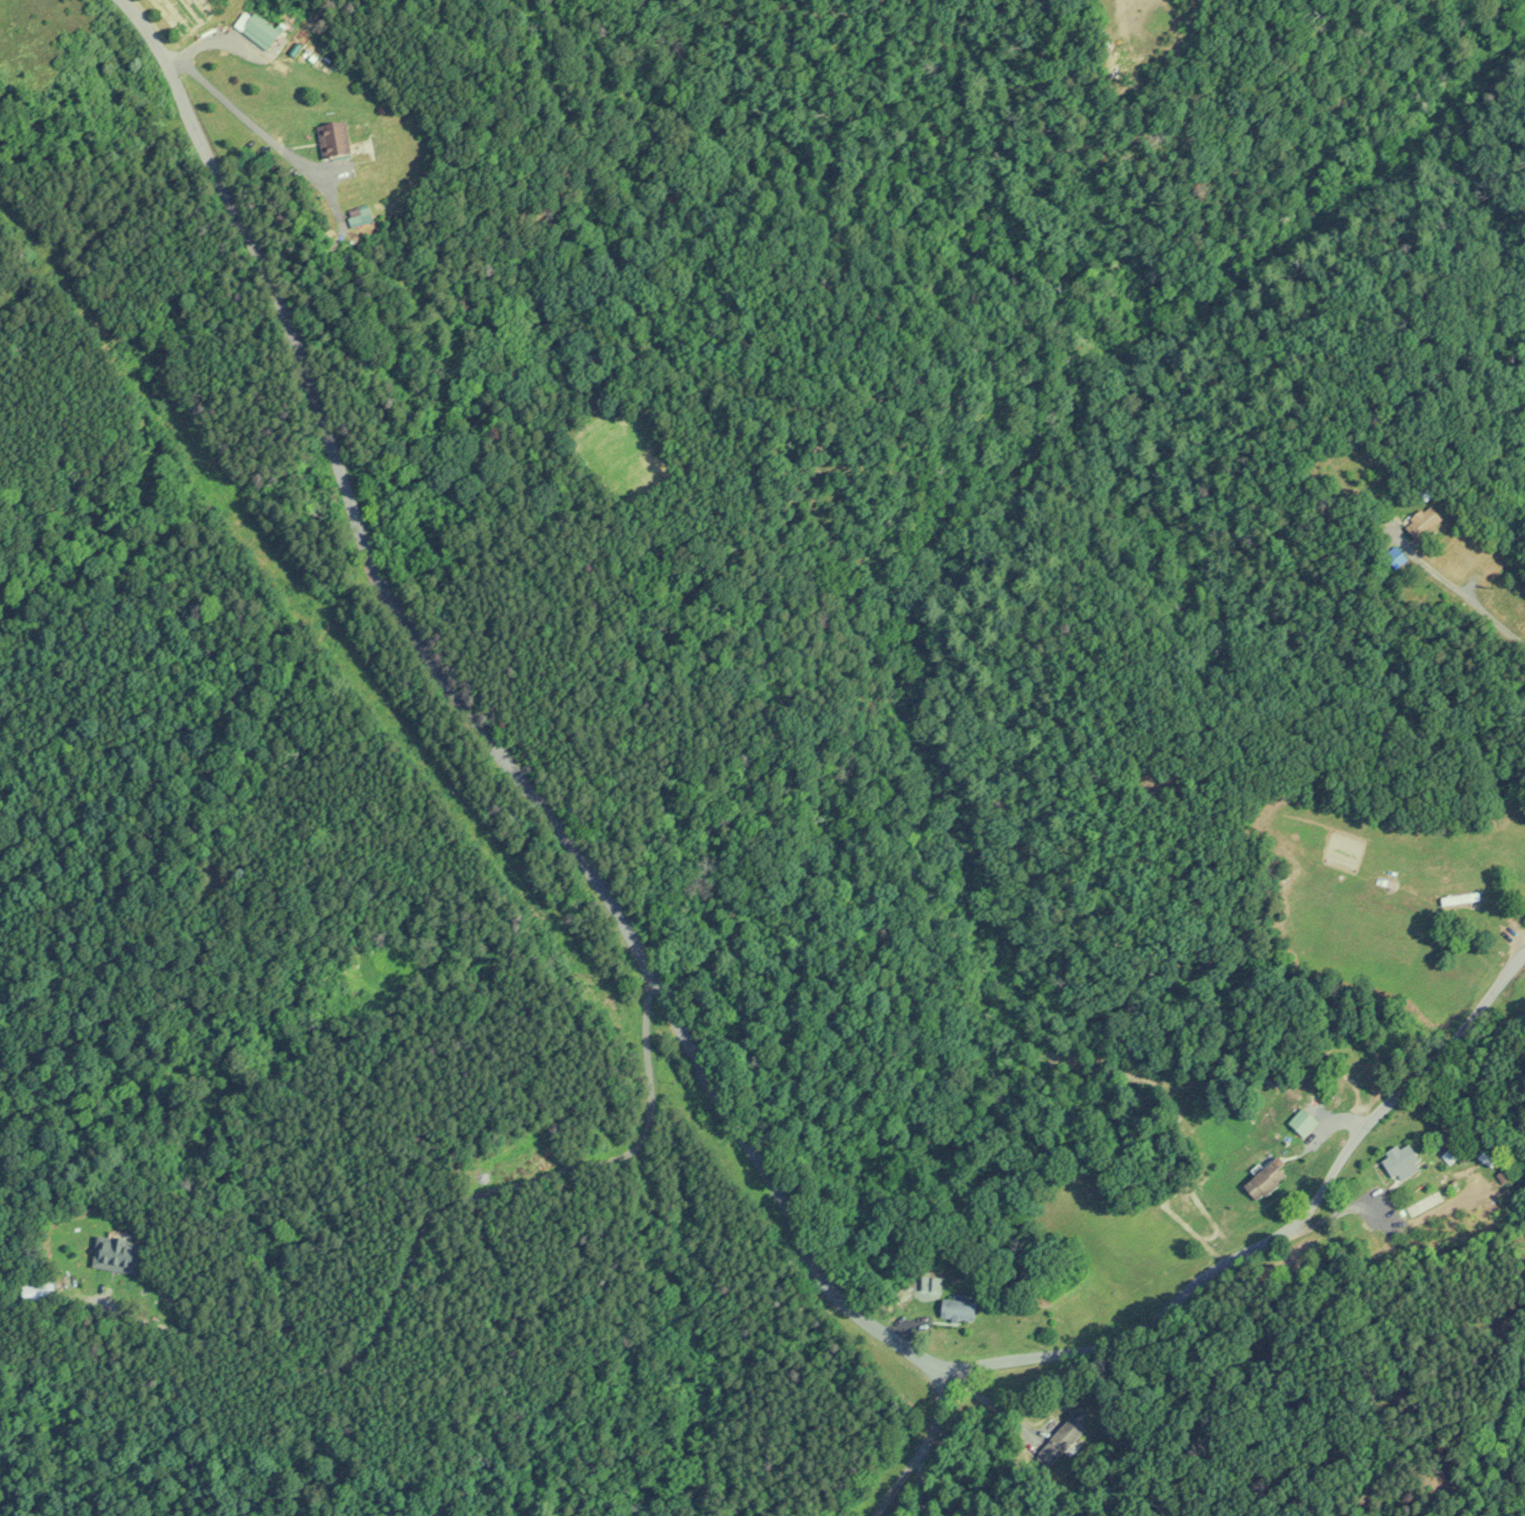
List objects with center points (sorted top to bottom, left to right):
building: (259, 33)
road: (262, 133)
building: (332, 141)
building: (357, 215)
building: (1422, 521)
road: (1459, 589)
building: (1459, 898)
road: (680, 1033)
building: (1301, 1122)
building: (1487, 1157)
building: (1399, 1160)
building: (1263, 1180)
road: (413, 1250)
building: (85, 1264)
building: (36, 1293)
building: (956, 1310)
building: (1062, 1441)
road: (921, 1445)
road: (920, 1484)

